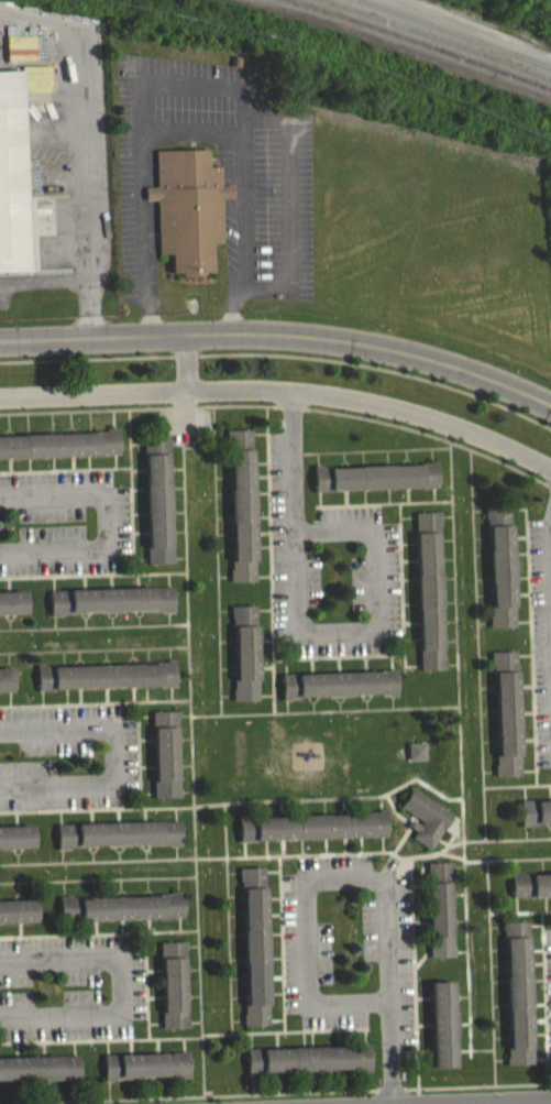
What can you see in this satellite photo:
railway: (440, 36)
railway: (425, 42)
railway: (406, 46)
road: (194, 85)
parking lot: (265, 174)
building: (13, 178)
building: (187, 206)
road: (74, 280)
road: (280, 339)
road: (178, 362)
road: (283, 391)
building: (58, 453)
building: (374, 485)
building: (156, 510)
building: (240, 514)
road: (110, 523)
road: (549, 551)
building: (499, 575)
building: (428, 599)
building: (110, 609)
building: (11, 611)
road: (305, 636)
building: (244, 662)
building: (104, 685)
building: (5, 690)
building: (338, 692)
building: (505, 722)
building: (416, 759)
road: (113, 761)
building: (164, 763)
building: (535, 820)
building: (423, 827)
building: (311, 835)
building: (118, 842)
building: (15, 846)
road: (301, 879)
building: (530, 893)
building: (120, 916)
building: (438, 918)
building: (16, 920)
building: (253, 954)
road: (122, 985)
building: (172, 993)
building: (516, 1001)
building: (441, 1032)
road: (390, 1052)
building: (307, 1068)
building: (144, 1074)
building: (38, 1076)
road: (525, 1102)

